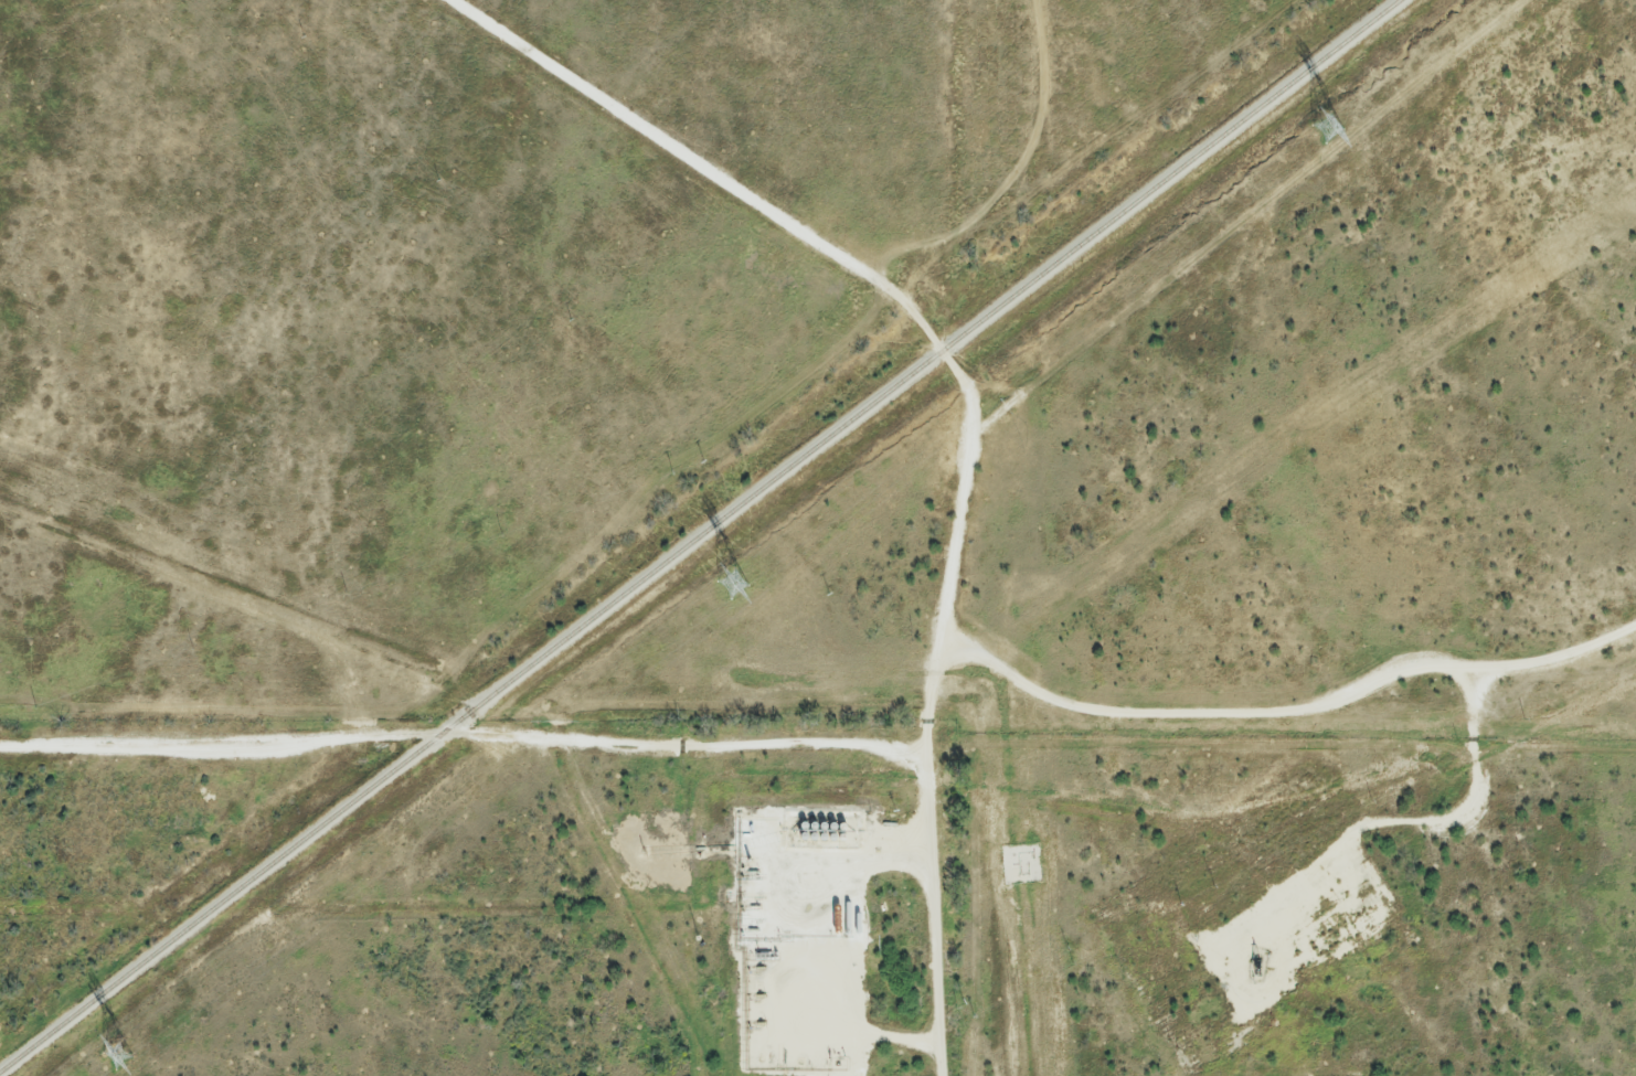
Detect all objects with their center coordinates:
power tower: (1330, 128)
road: (824, 251)
railway: (703, 535)
power tower: (735, 585)
road: (885, 753)
road: (1436, 825)
road: (933, 915)
road: (773, 954)
power tower: (120, 1058)

